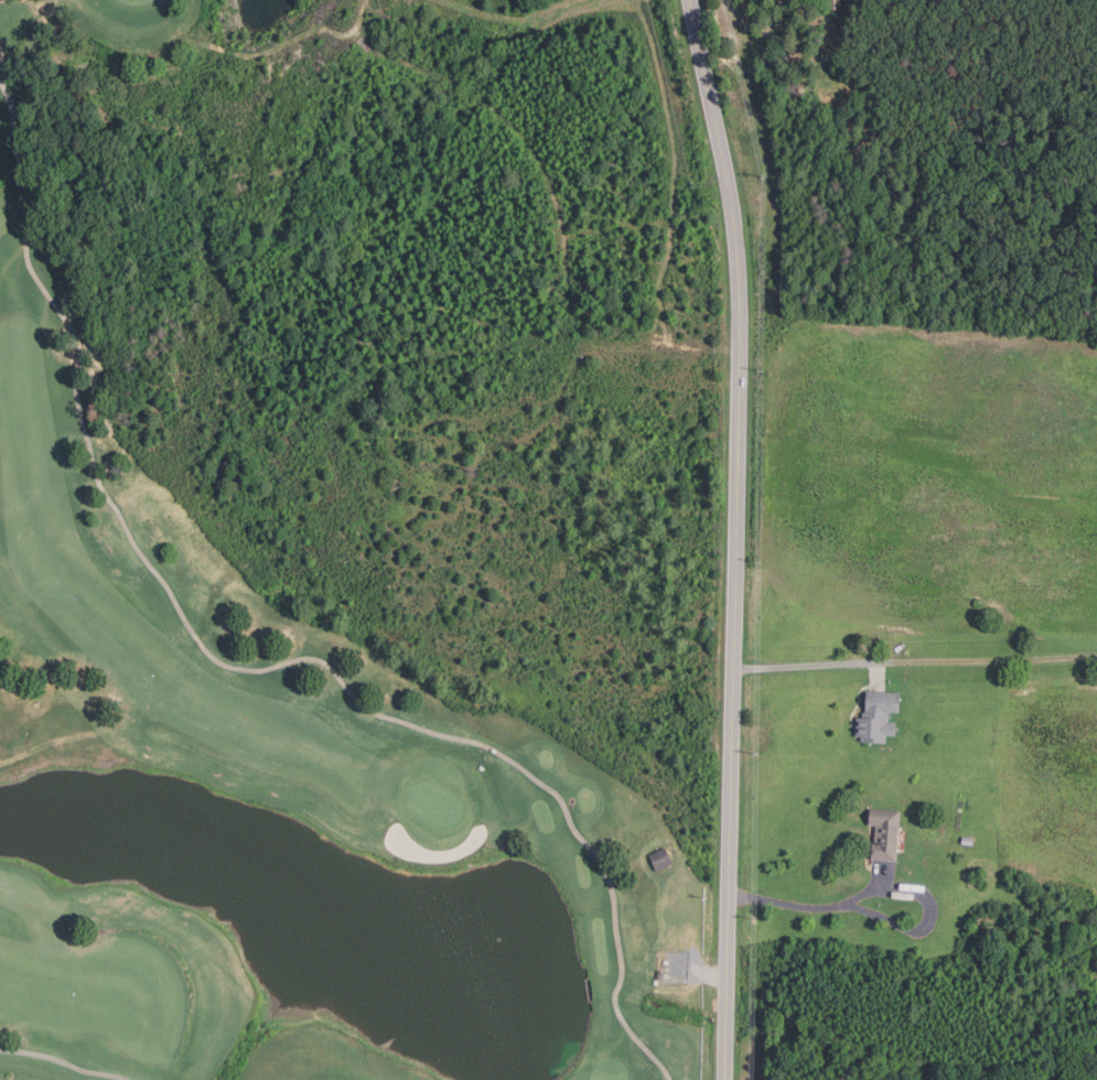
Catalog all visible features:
building: (833, 4)
road: (1, 76)
building: (791, 90)
road: (18, 154)
road: (735, 538)
road: (988, 658)
road: (807, 665)
road: (266, 668)
road: (879, 672)
building: (876, 716)
park: (266, 744)
building: (884, 834)
building: (967, 840)
building: (659, 857)
road: (883, 887)
road: (641, 1043)
road: (63, 1062)

